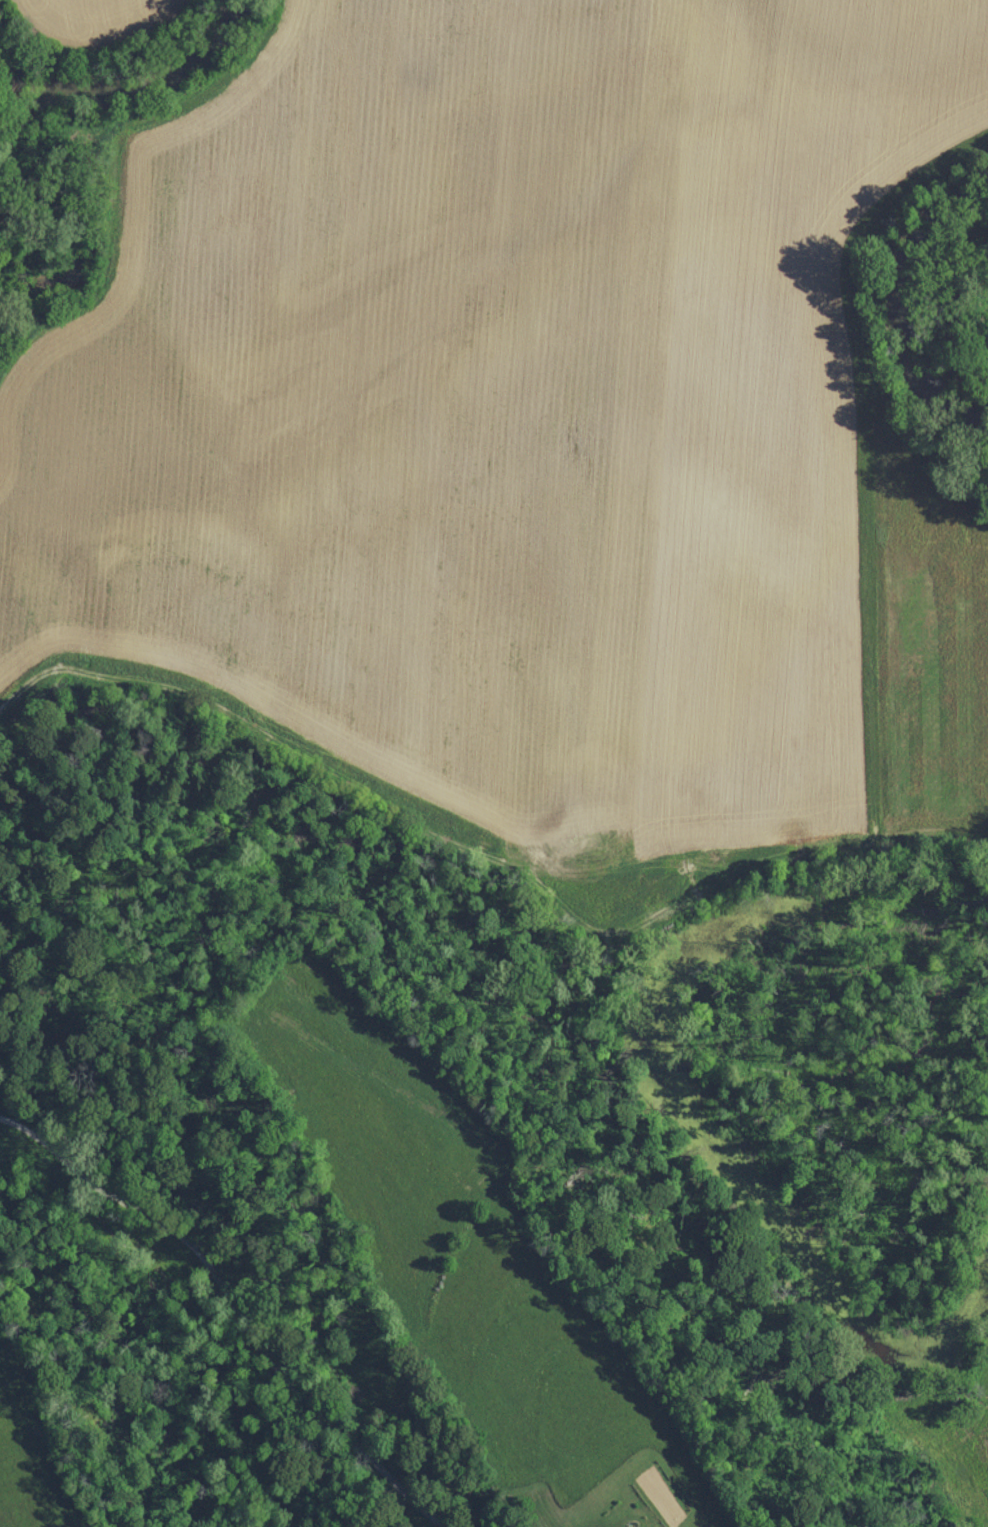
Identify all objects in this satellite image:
river: (127, 92)
river: (926, 300)
road: (234, 1307)

